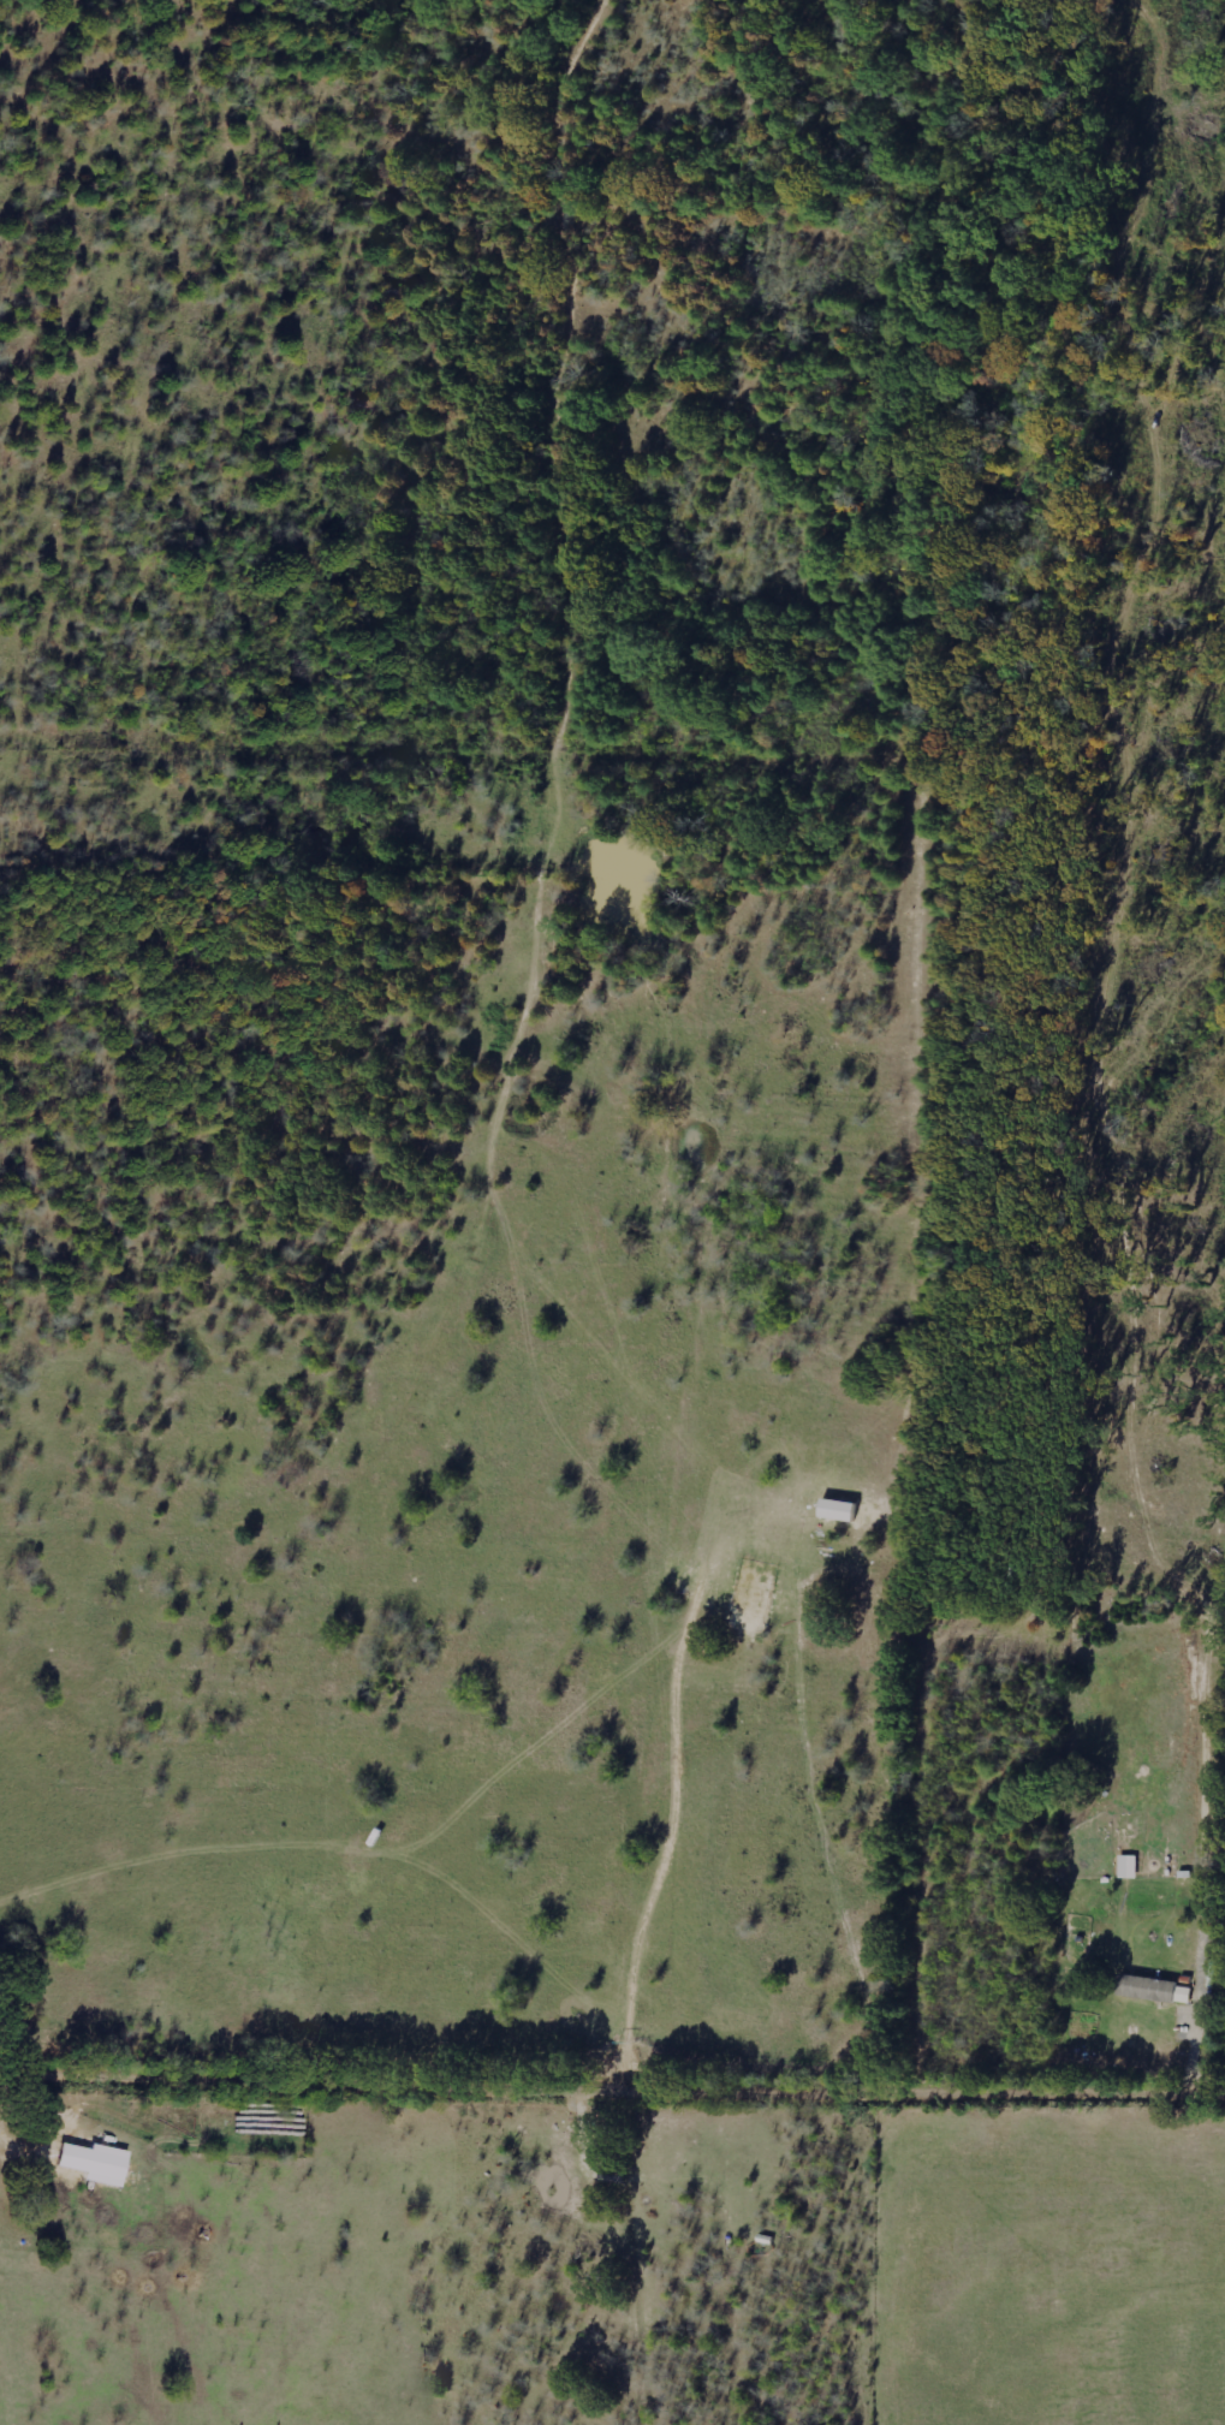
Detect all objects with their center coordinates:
building: (1128, 1866)
building: (1146, 1987)
building: (1183, 1995)
road: (612, 2097)

